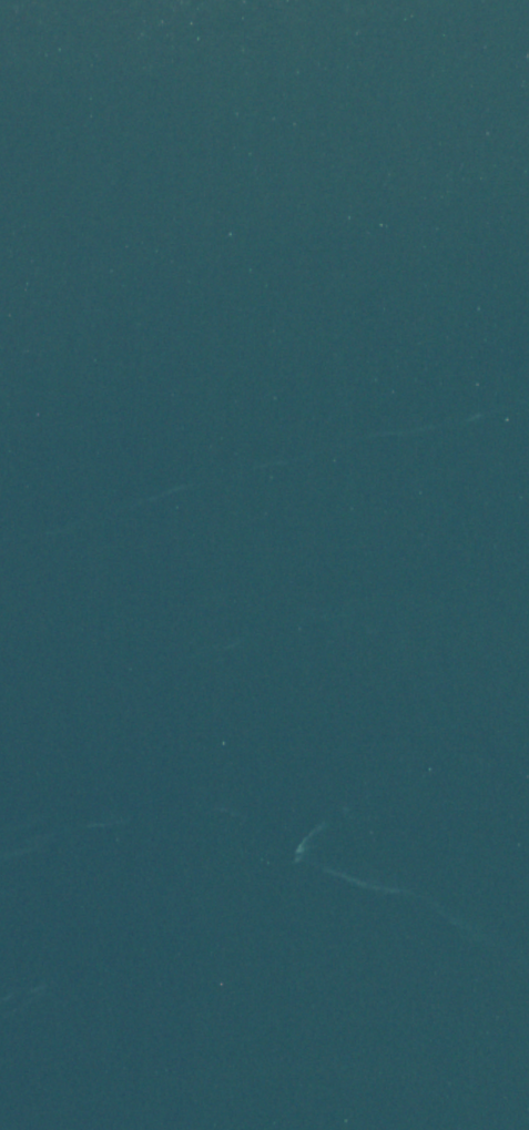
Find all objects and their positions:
river: (264, 1076)

